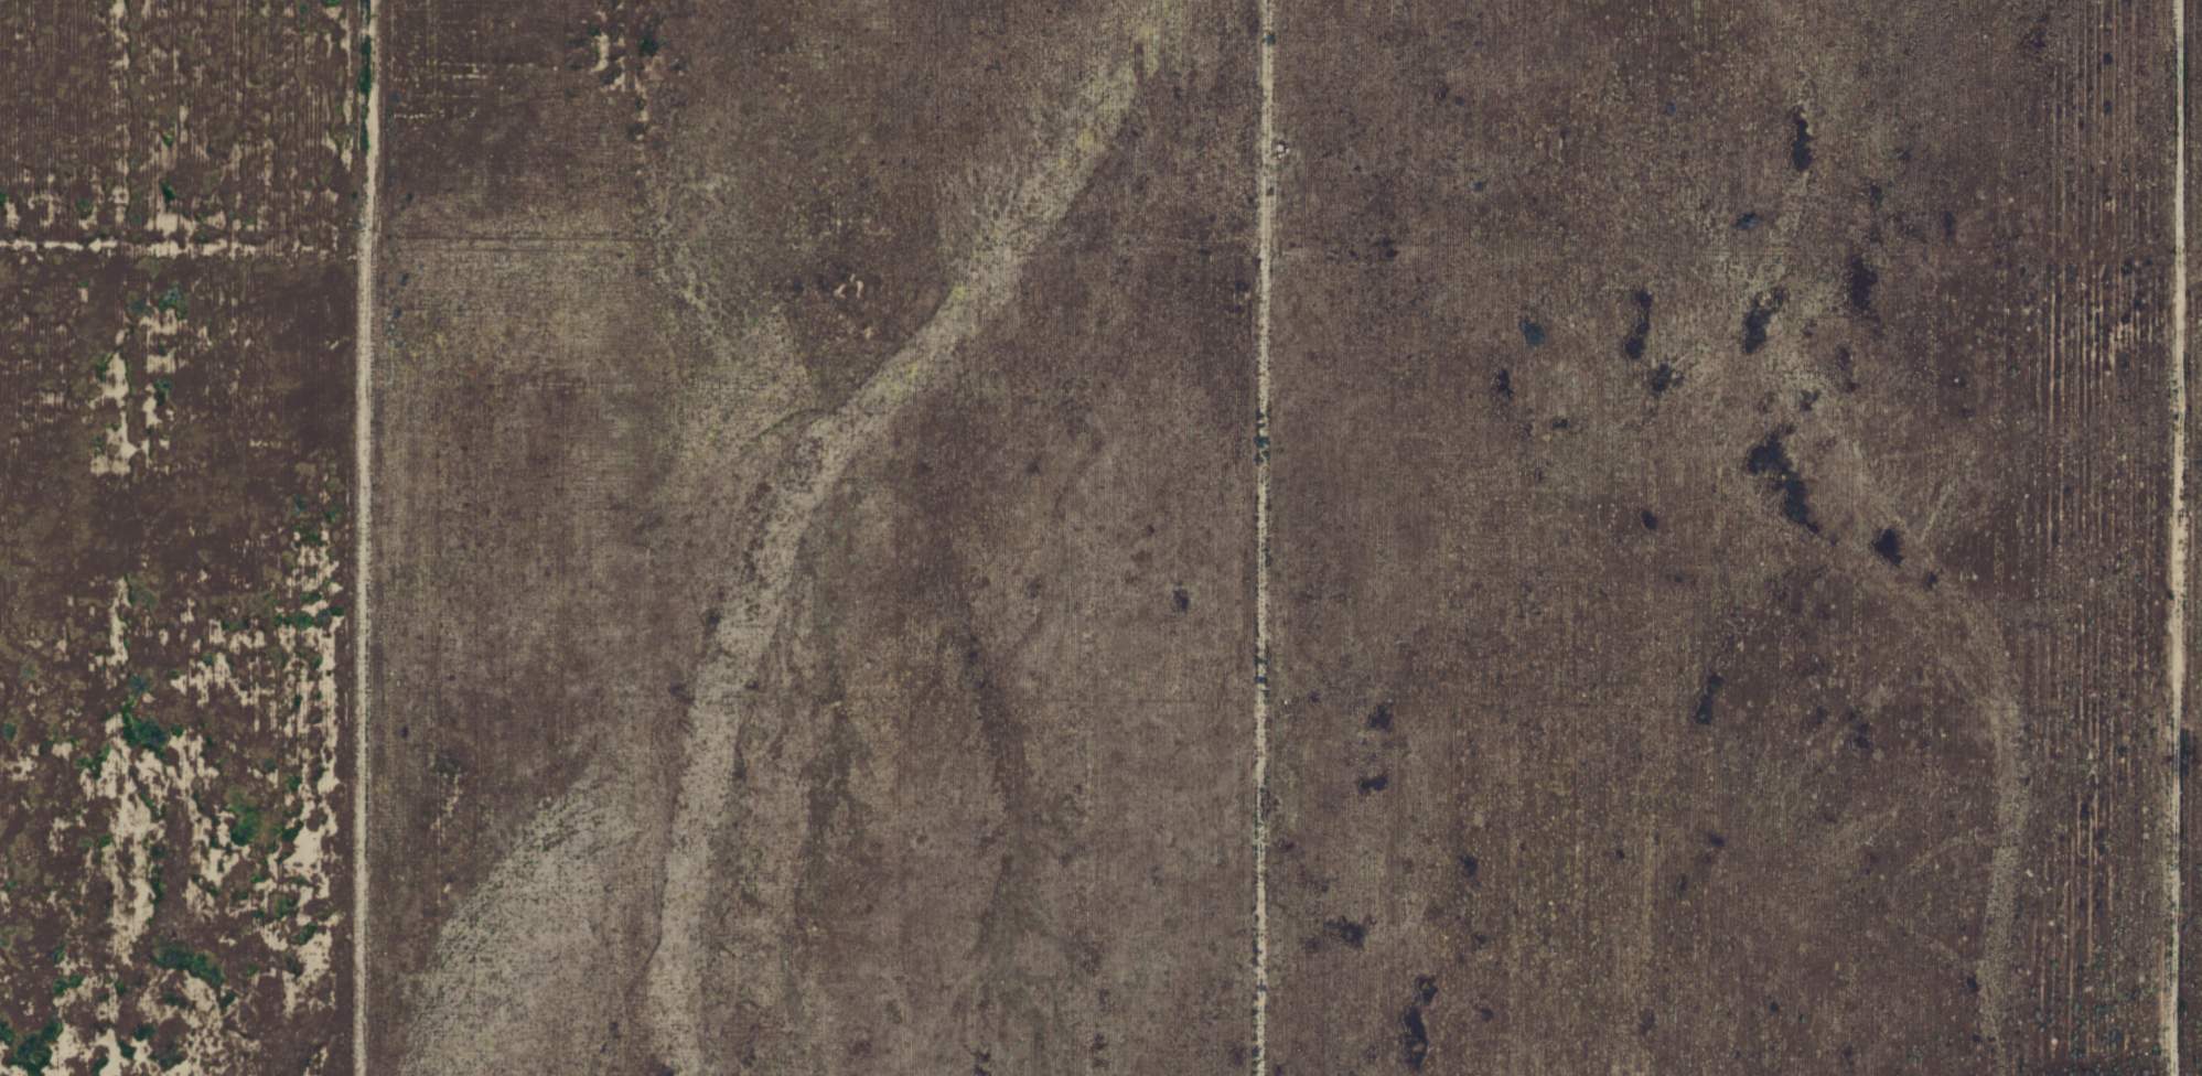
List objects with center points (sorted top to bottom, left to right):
road: (129, 217)
road: (255, 537)
road: (2194, 538)

